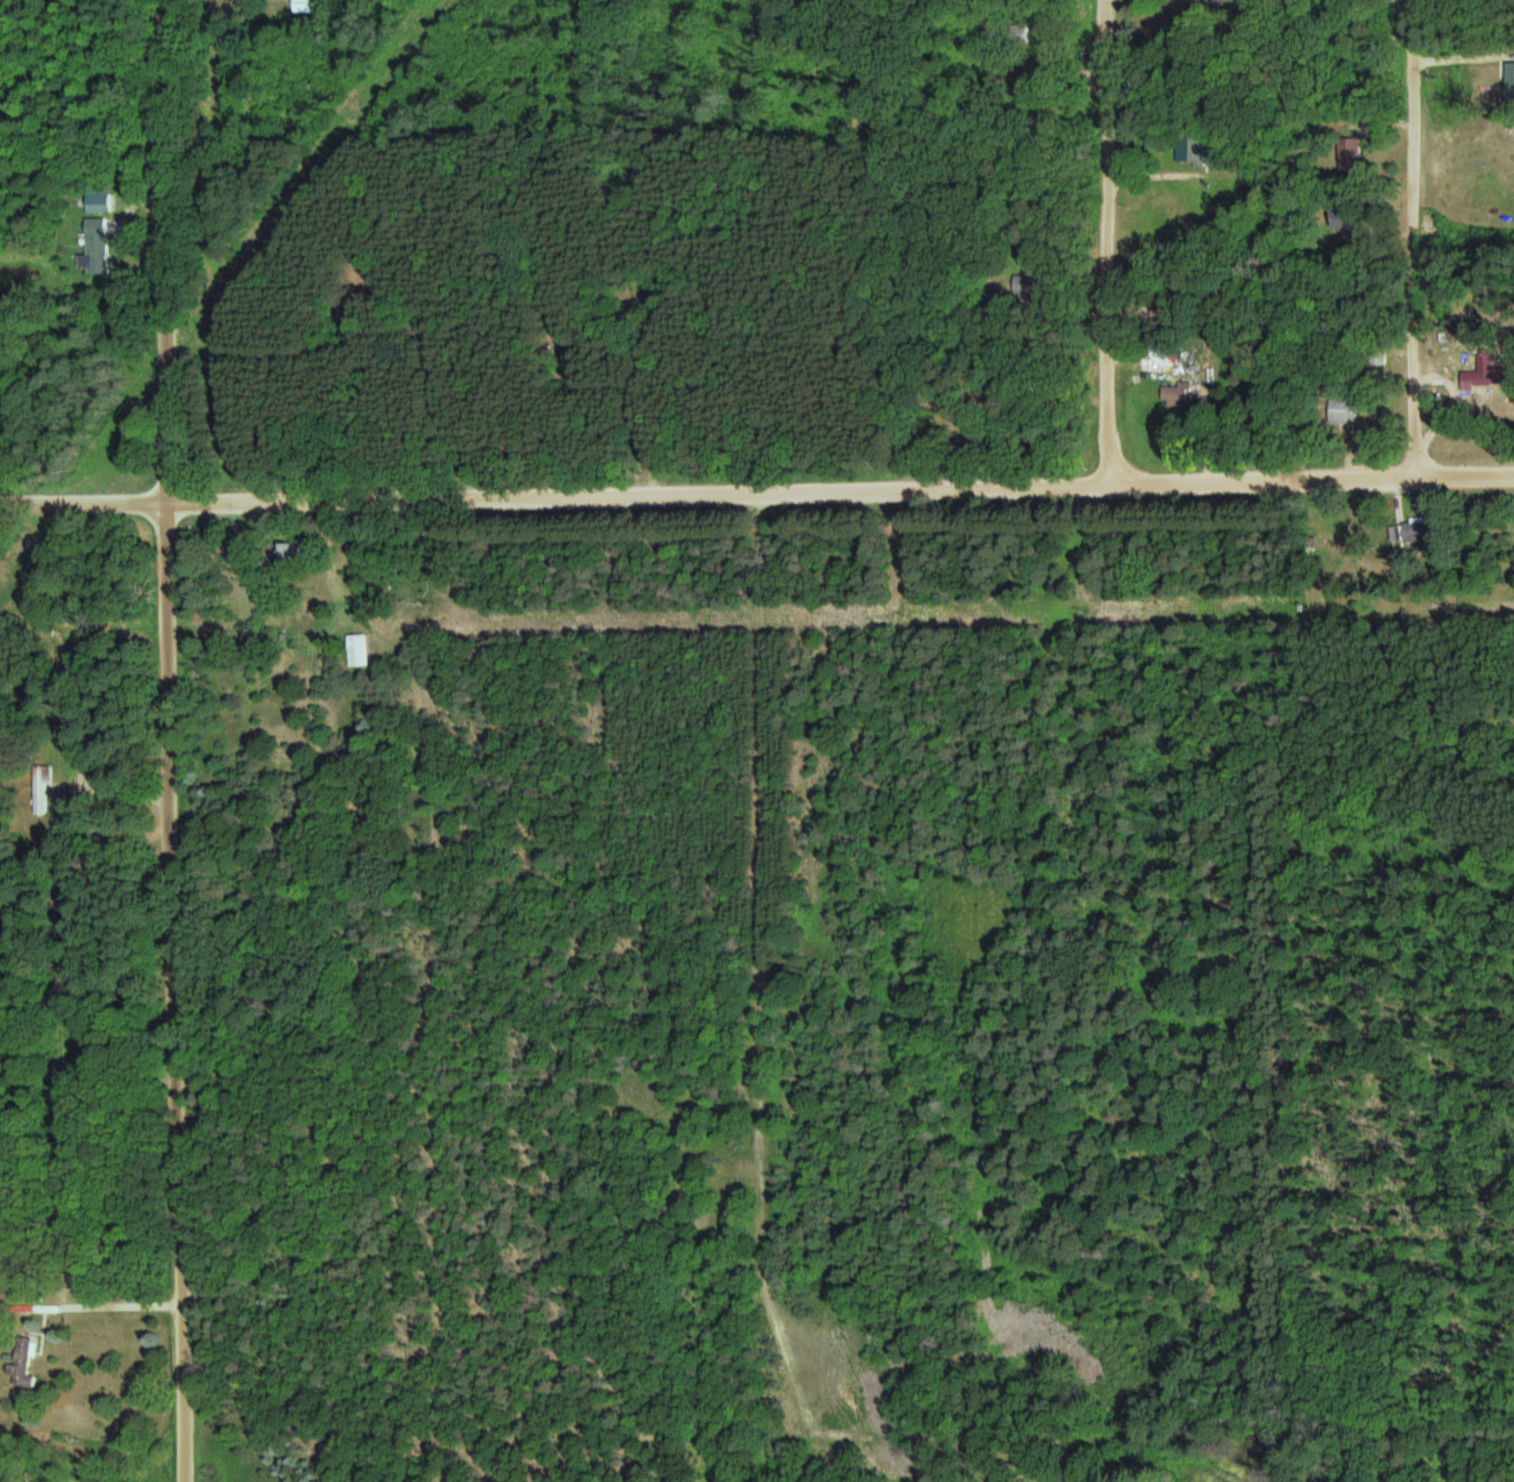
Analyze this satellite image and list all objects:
building: (1511, 82)
building: (1353, 158)
road: (1418, 238)
road: (1111, 241)
road: (511, 287)
building: (1158, 352)
building: (1381, 355)
building: (1179, 394)
building: (1347, 409)
road: (842, 489)
road: (1103, 498)
road: (86, 506)
building: (1421, 528)
building: (362, 650)
road: (175, 741)
building: (44, 789)
building: (22, 1363)

